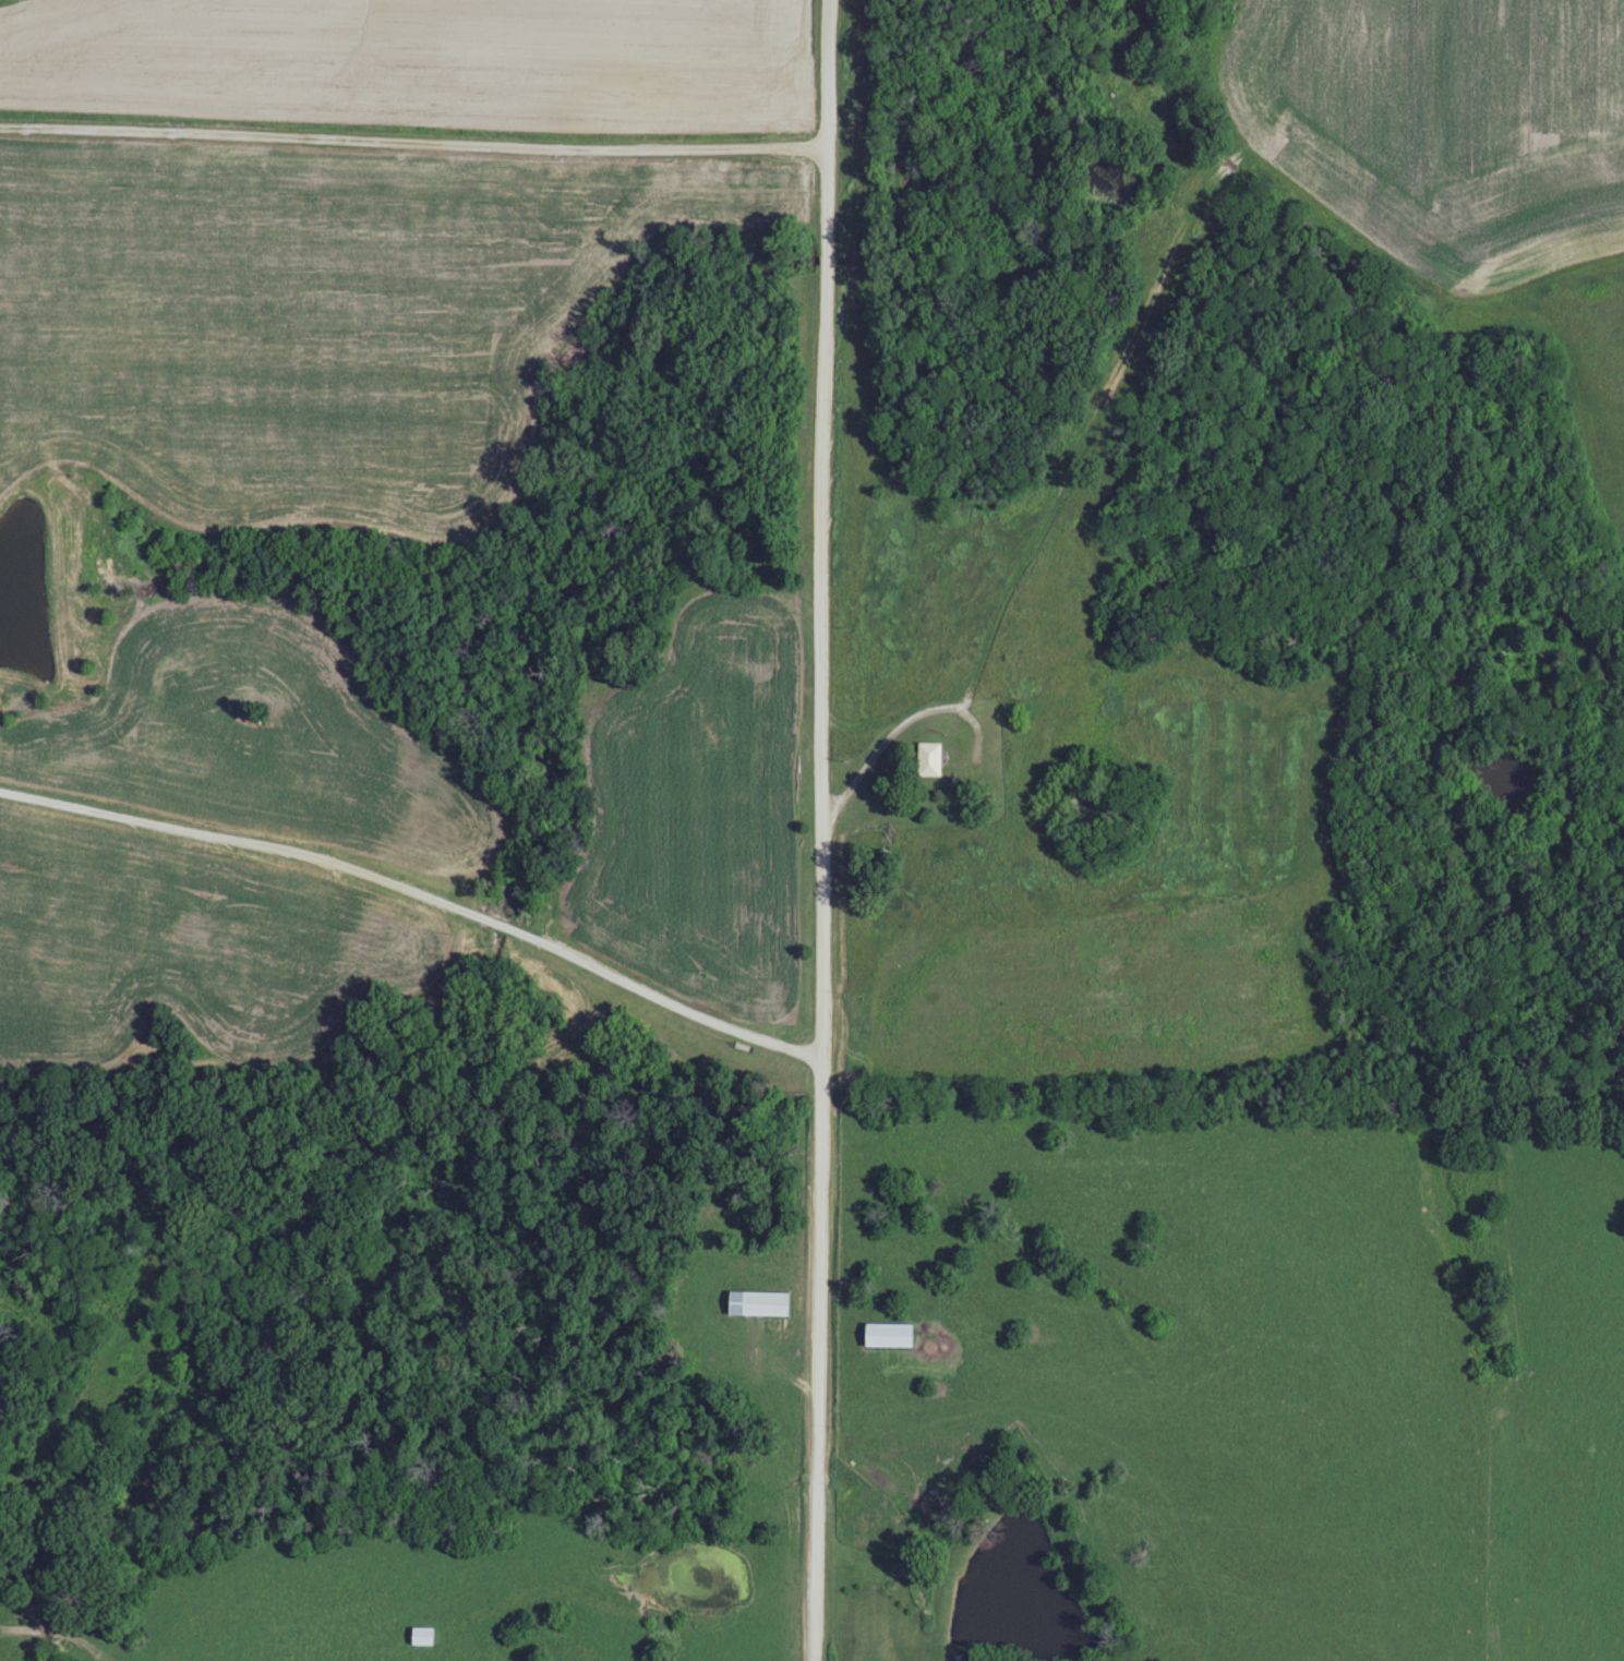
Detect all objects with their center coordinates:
road: (546, 146)
road: (901, 722)
building: (931, 760)
road: (819, 830)
road: (420, 889)
building: (769, 1305)
building: (892, 1336)
building: (426, 1637)

